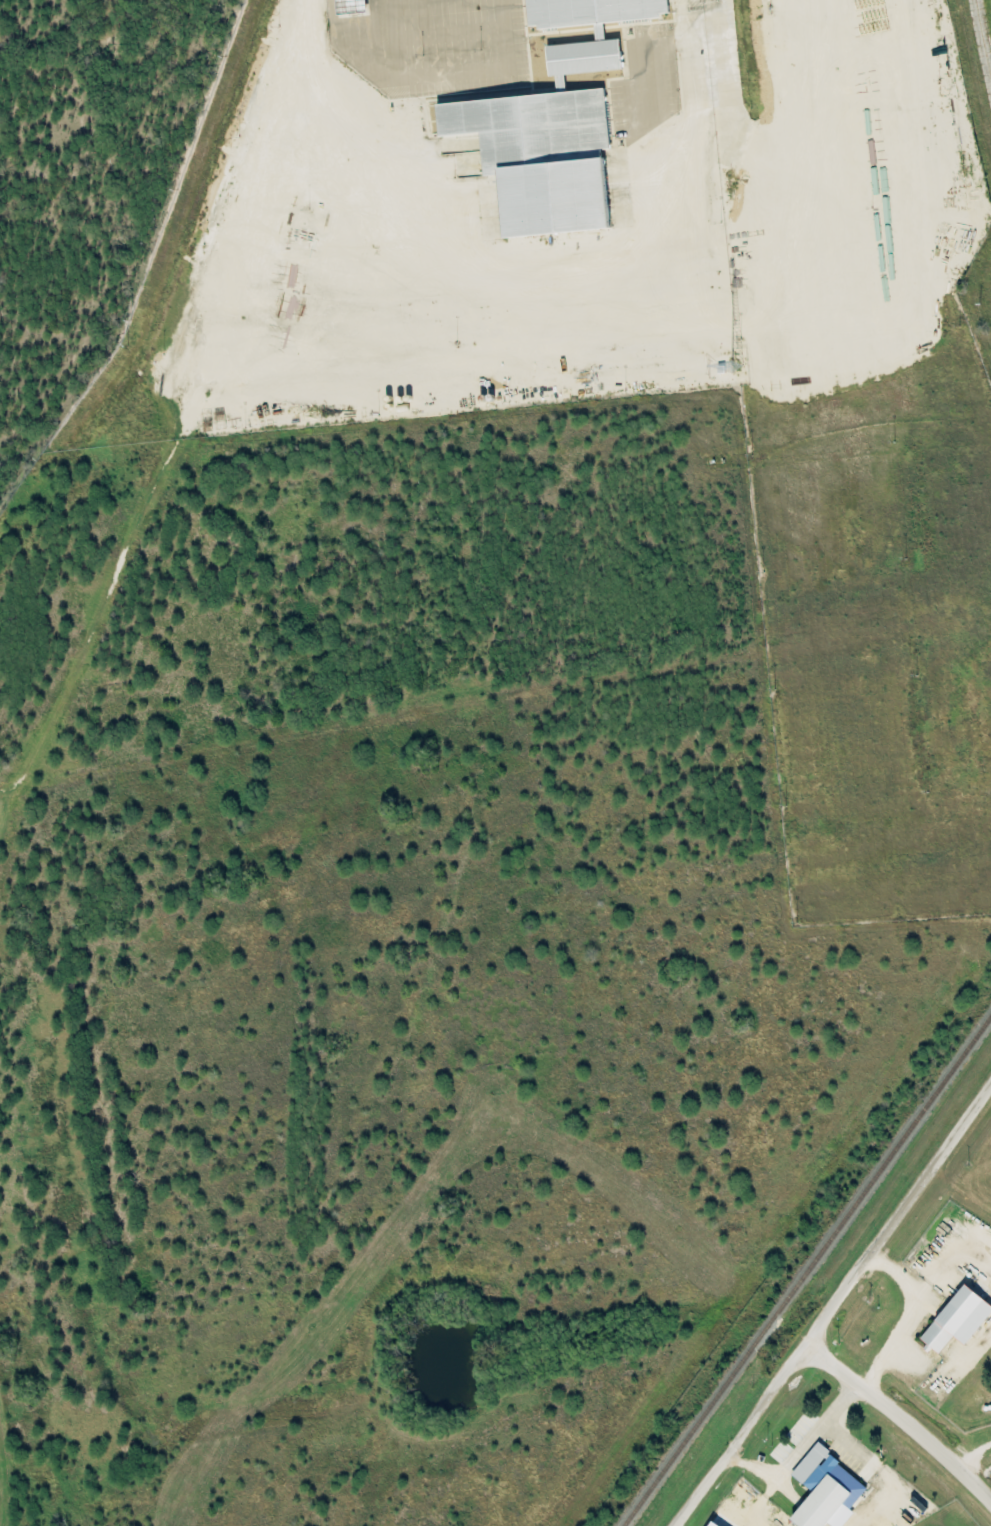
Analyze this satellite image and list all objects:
building: (356, 6)
building: (593, 13)
building: (584, 60)
building: (543, 158)
railway: (807, 1269)
road: (836, 1307)
building: (960, 1320)
road: (904, 1420)
building: (828, 1491)
building: (716, 1524)

